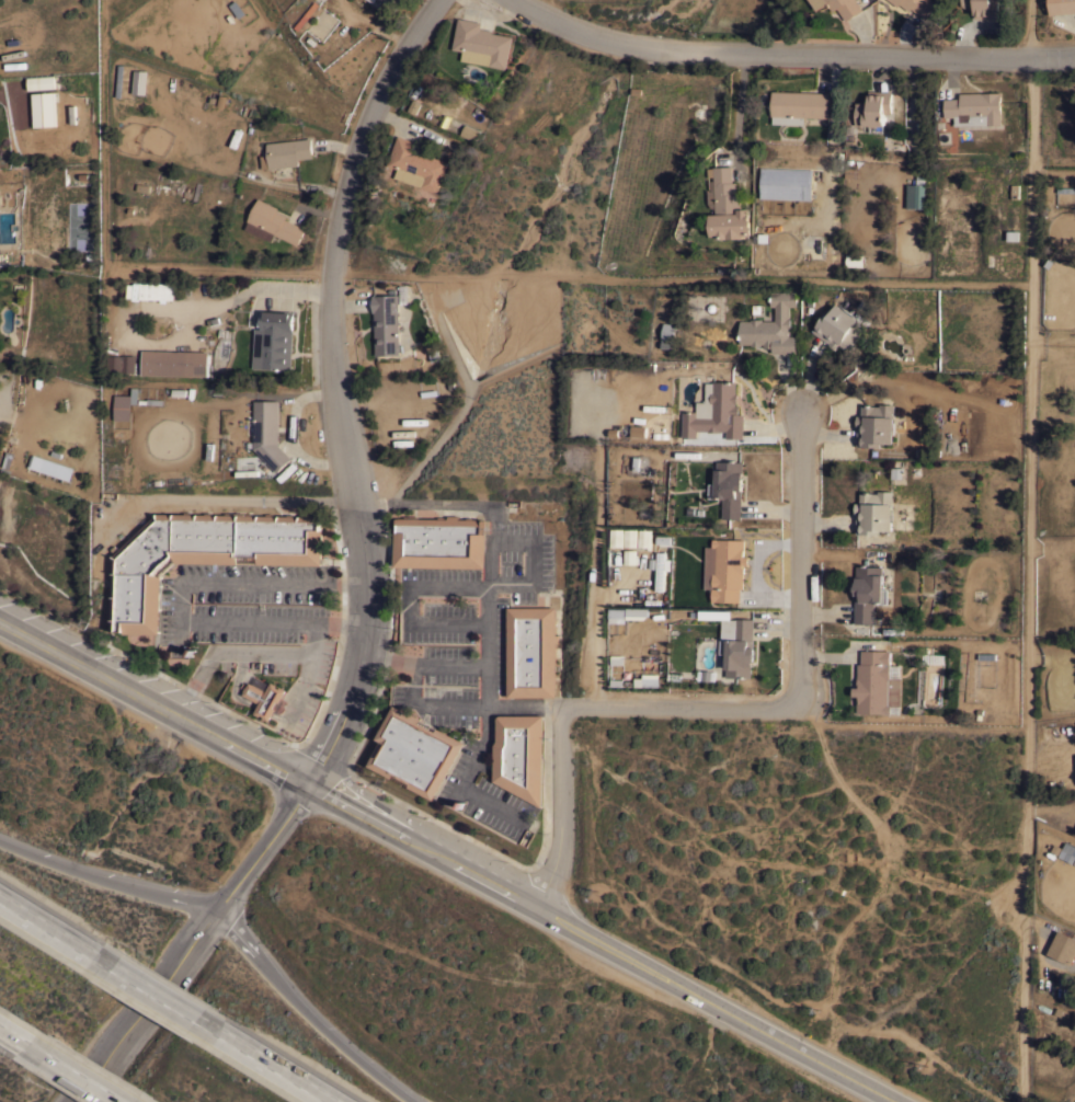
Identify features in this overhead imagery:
building: (371, 1)
building: (388, 1)
building: (840, 5)
building: (916, 5)
building: (1062, 5)
building: (982, 8)
building: (307, 14)
road: (1071, 21)
road: (1030, 28)
building: (481, 43)
road: (789, 55)
building: (42, 81)
building: (139, 81)
building: (799, 104)
road: (737, 106)
building: (974, 107)
building: (44, 110)
building: (873, 110)
building: (69, 115)
building: (787, 119)
building: (470, 131)
building: (286, 152)
building: (418, 163)
building: (786, 184)
building: (1065, 188)
building: (916, 192)
building: (729, 207)
building: (273, 222)
building: (1013, 236)
building: (760, 238)
building: (854, 260)
building: (158, 290)
building: (386, 324)
building: (771, 325)
building: (840, 328)
building: (668, 331)
building: (274, 340)
building: (174, 361)
building: (121, 363)
road: (333, 383)
building: (122, 406)
building: (716, 412)
building: (876, 424)
building: (638, 431)
building: (268, 433)
building: (49, 468)
building: (728, 486)
building: (873, 512)
building: (616, 537)
building: (629, 537)
building: (643, 537)
building: (439, 541)
building: (201, 554)
road: (796, 560)
building: (724, 569)
building: (661, 570)
building: (73, 571)
road: (597, 577)
road: (1027, 579)
road: (502, 587)
road: (471, 588)
building: (868, 593)
road: (179, 602)
building: (976, 611)
building: (636, 612)
building: (616, 615)
road: (448, 623)
building: (737, 645)
building: (530, 652)
road: (243, 654)
road: (422, 664)
building: (708, 674)
building: (648, 679)
building: (877, 682)
building: (265, 696)
road: (447, 705)
road: (525, 709)
road: (678, 709)
building: (415, 753)
building: (519, 755)
road: (559, 810)
building: (1066, 852)
road: (447, 860)
road: (110, 874)
road: (50, 920)
road: (195, 941)
building: (1063, 946)
road: (160, 988)
building: (1057, 1010)
road: (316, 1011)
building: (1057, 1024)
road: (16, 1025)
road: (281, 1064)
road: (87, 1069)

